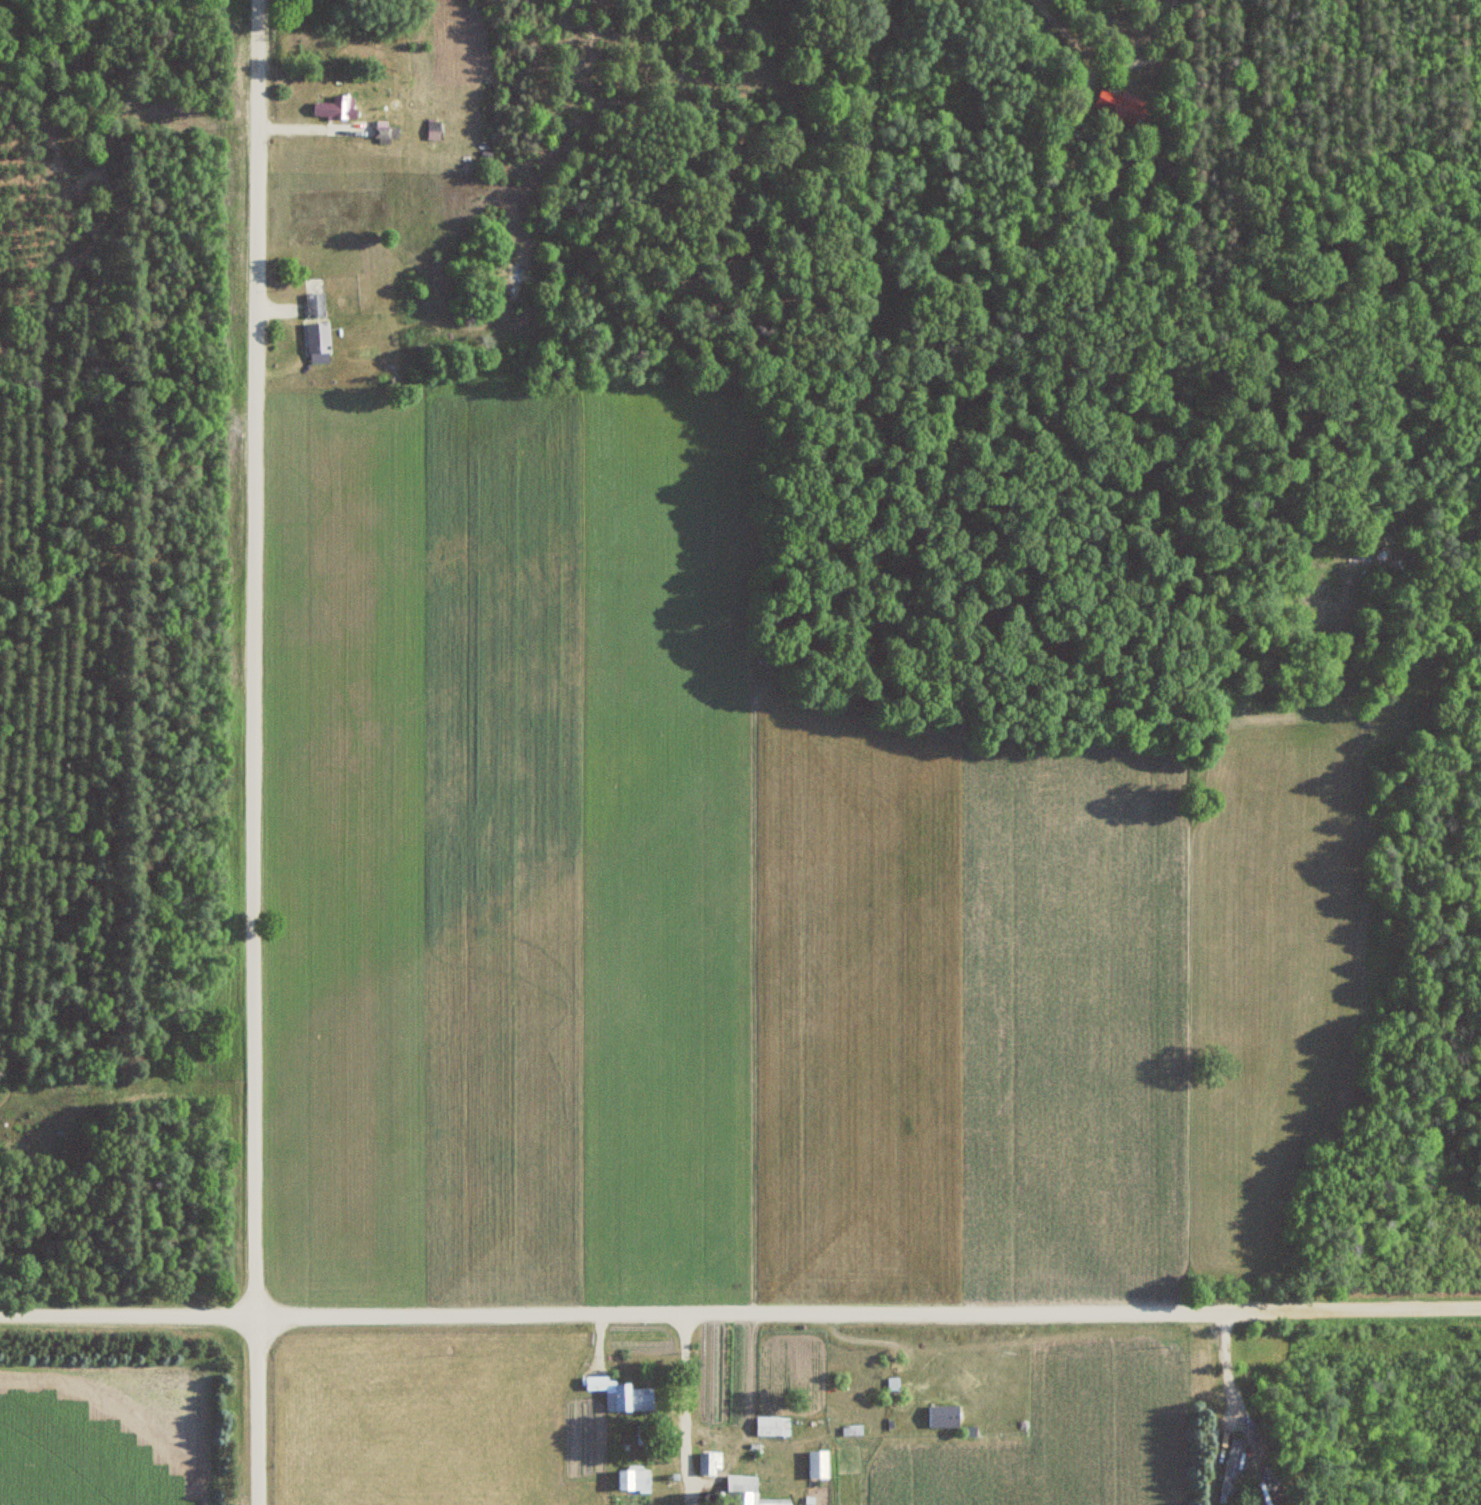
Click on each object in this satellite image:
building: (1116, 104)
building: (334, 108)
building: (435, 130)
building: (387, 132)
building: (316, 305)
building: (319, 340)
road: (254, 752)
road: (740, 1307)
building: (797, 1386)
road: (681, 1394)
building: (628, 1398)
building: (943, 1416)
building: (772, 1426)
building: (709, 1463)
building: (818, 1464)
building: (1231, 1465)
building: (634, 1478)
building: (745, 1491)

